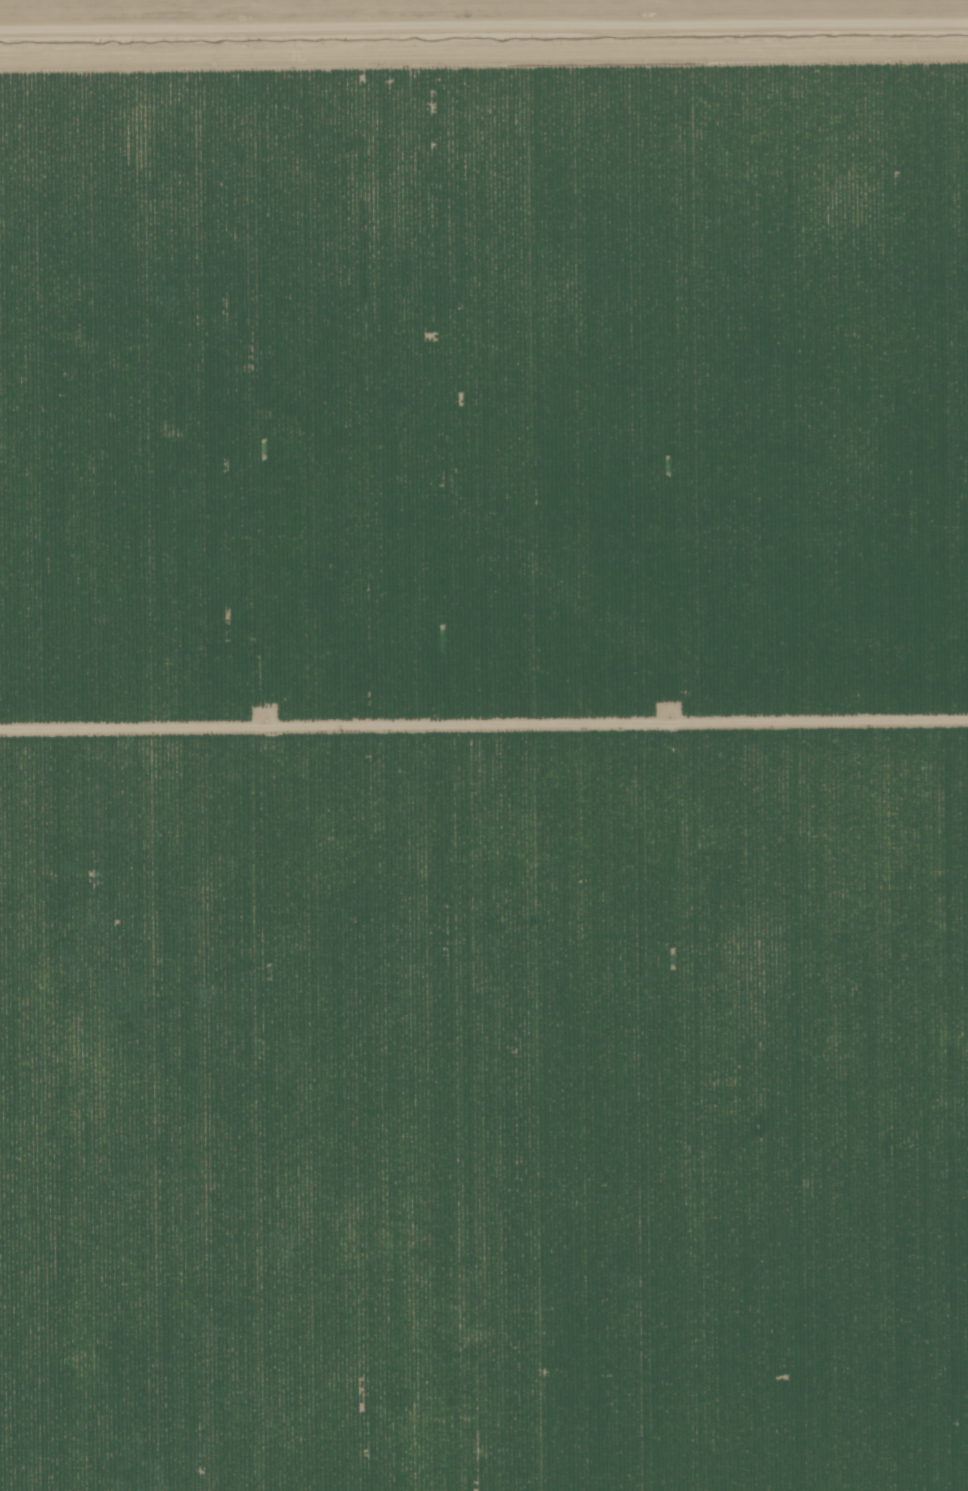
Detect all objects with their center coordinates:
crop: (500, 30)
crop: (483, 776)

